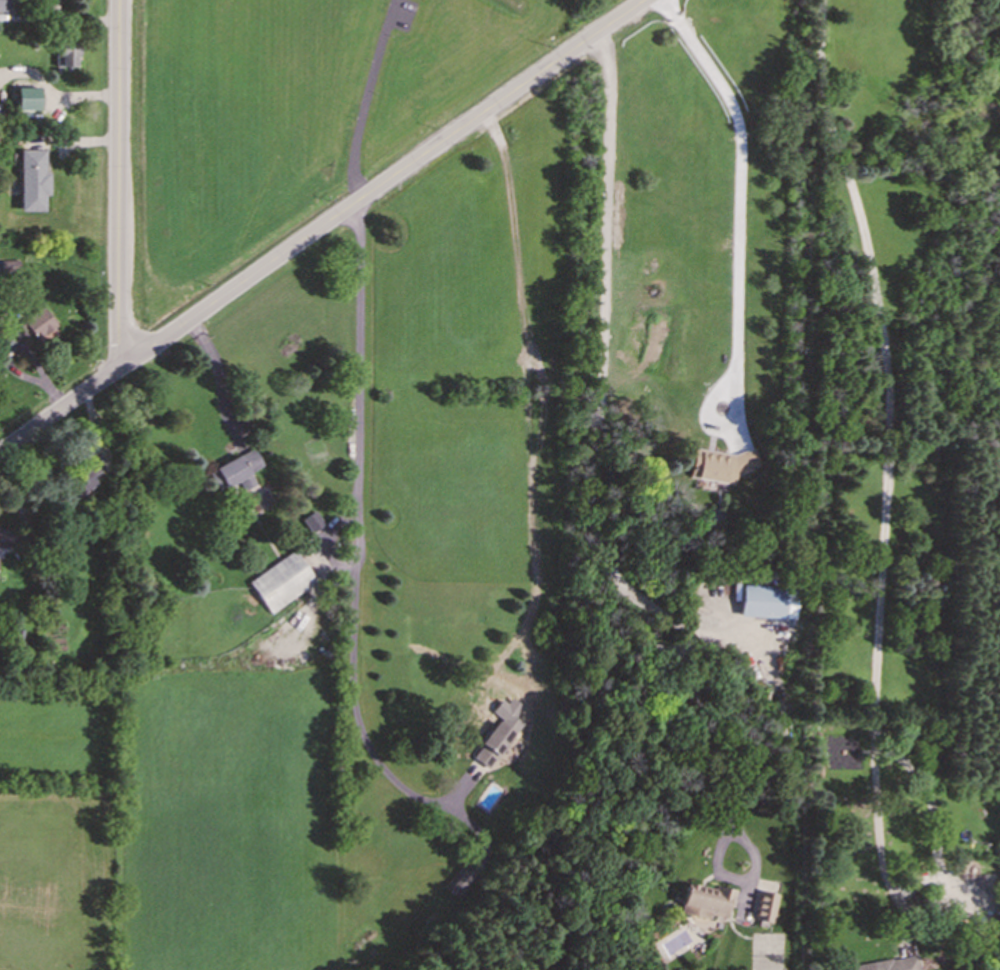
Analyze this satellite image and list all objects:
building: (3, 5)
building: (66, 54)
road: (366, 98)
building: (27, 99)
road: (740, 171)
road: (121, 180)
building: (32, 181)
road: (323, 226)
building: (37, 324)
road: (721, 431)
building: (719, 465)
building: (235, 471)
road: (886, 473)
building: (79, 479)
building: (313, 522)
road: (598, 527)
building: (4, 537)
road: (326, 538)
road: (357, 553)
building: (281, 582)
building: (763, 601)
building: (495, 742)
road: (459, 792)
building: (458, 882)
building: (705, 901)
building: (765, 907)
building: (890, 964)

